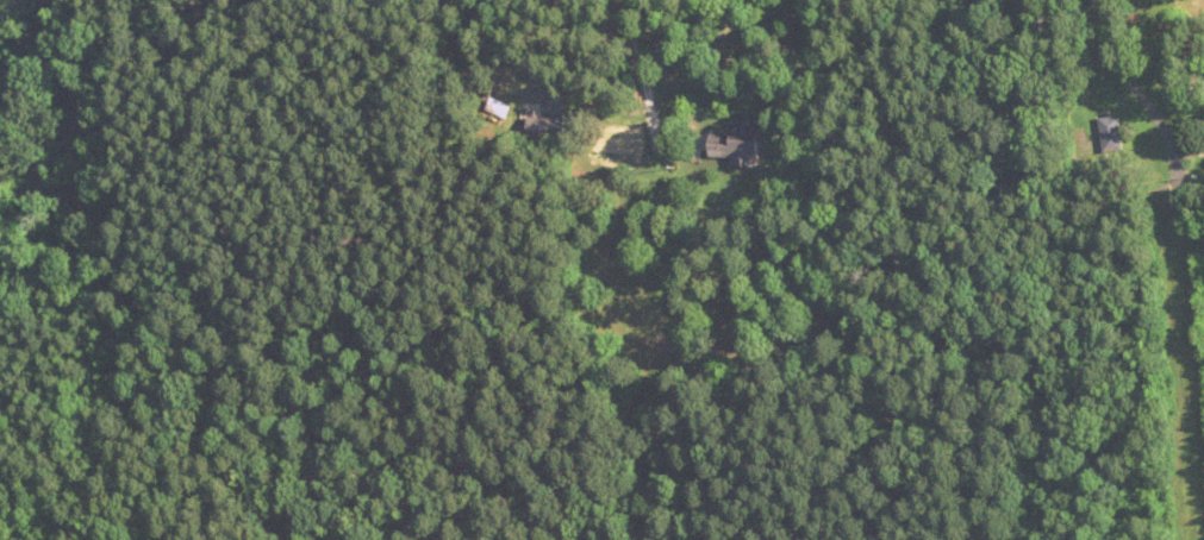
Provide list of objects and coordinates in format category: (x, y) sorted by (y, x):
building: (500, 107)
building: (545, 130)
building: (1111, 130)
building: (737, 144)

